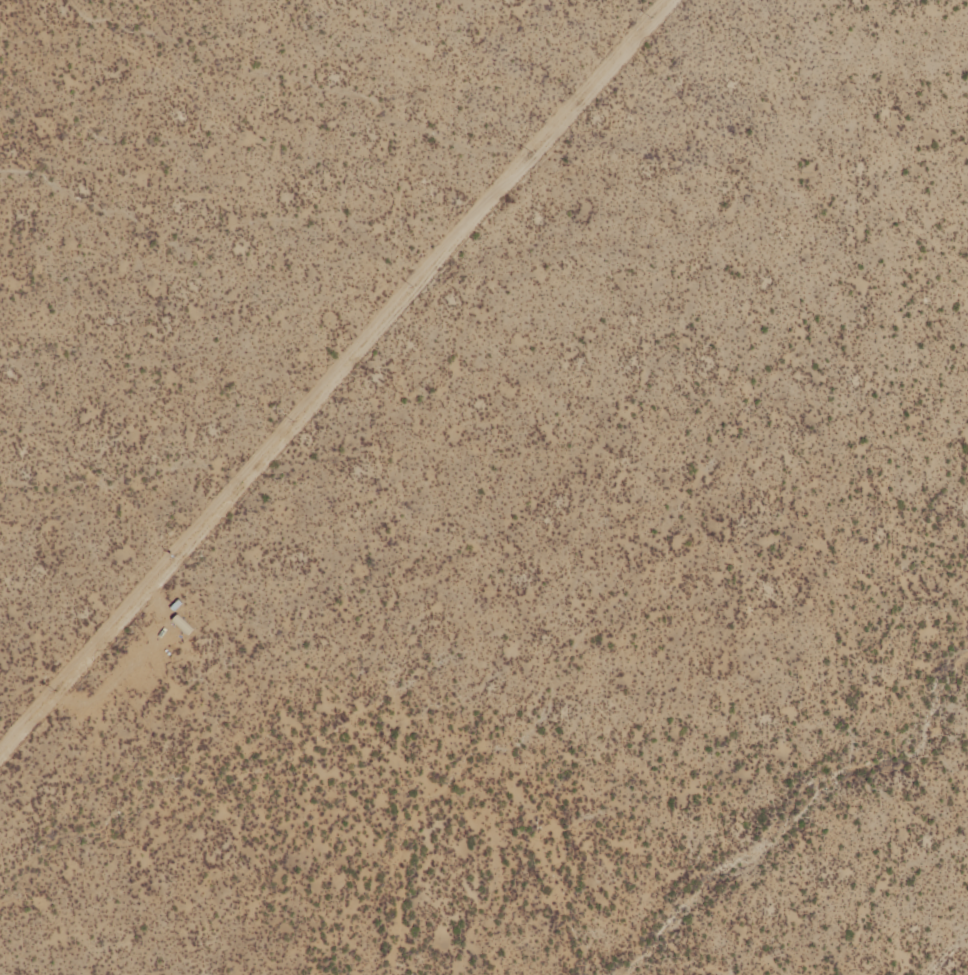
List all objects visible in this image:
road: (925, 927)

